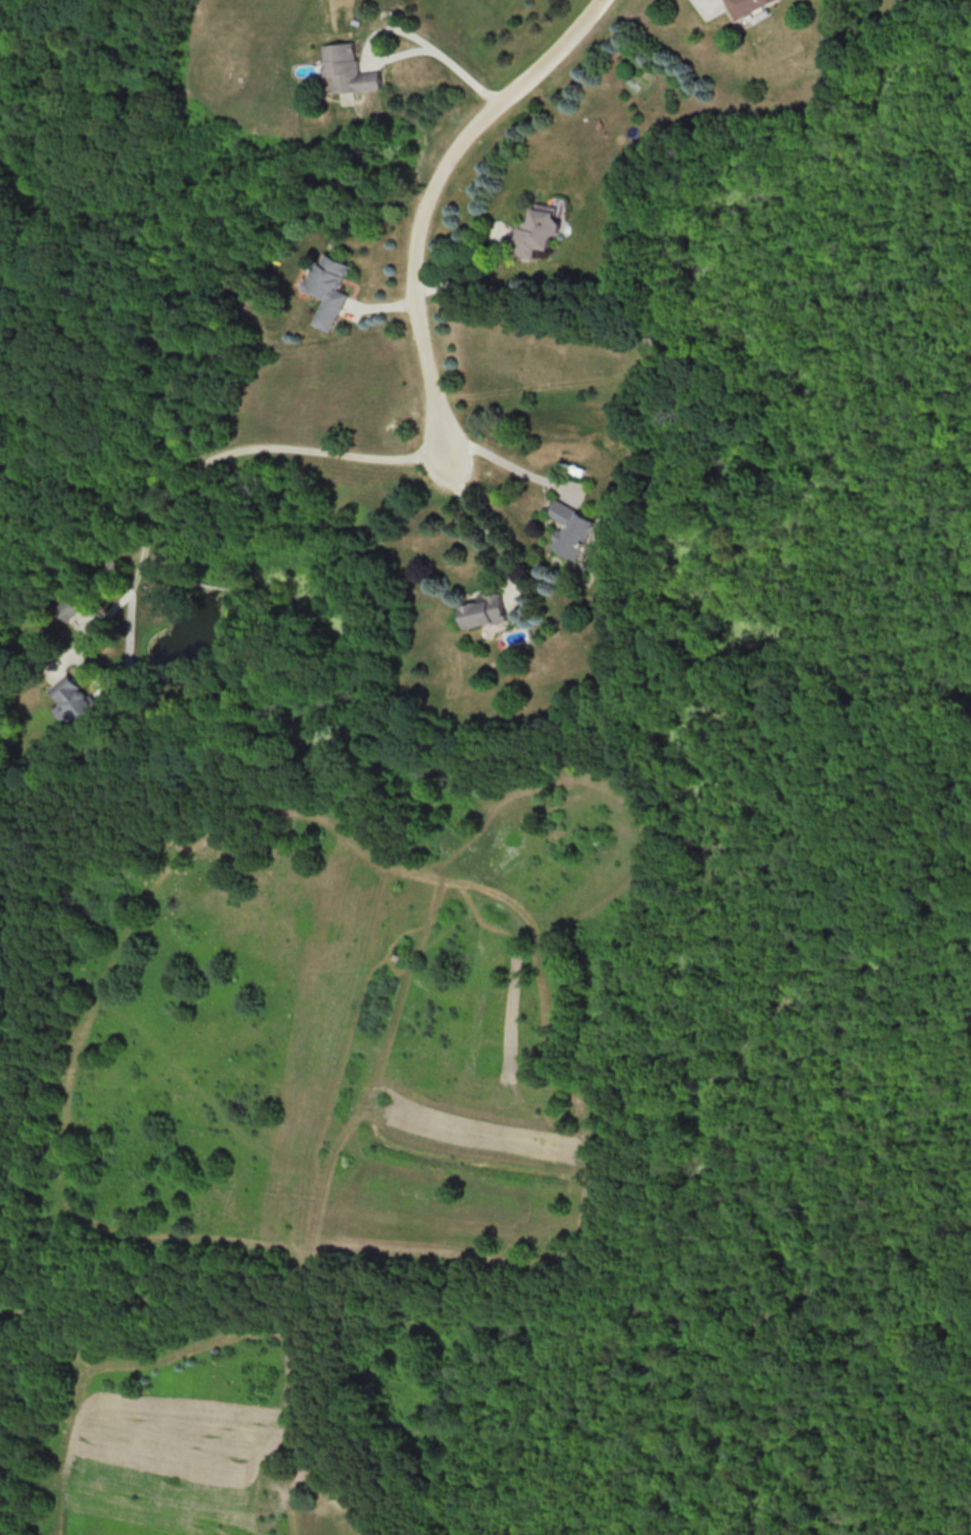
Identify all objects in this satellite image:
building: (745, 6)
road: (402, 31)
building: (348, 69)
road: (431, 193)
building: (536, 231)
road: (466, 275)
building: (329, 289)
road: (517, 468)
road: (157, 507)
road: (483, 521)
building: (572, 529)
building: (484, 611)
building: (73, 699)

